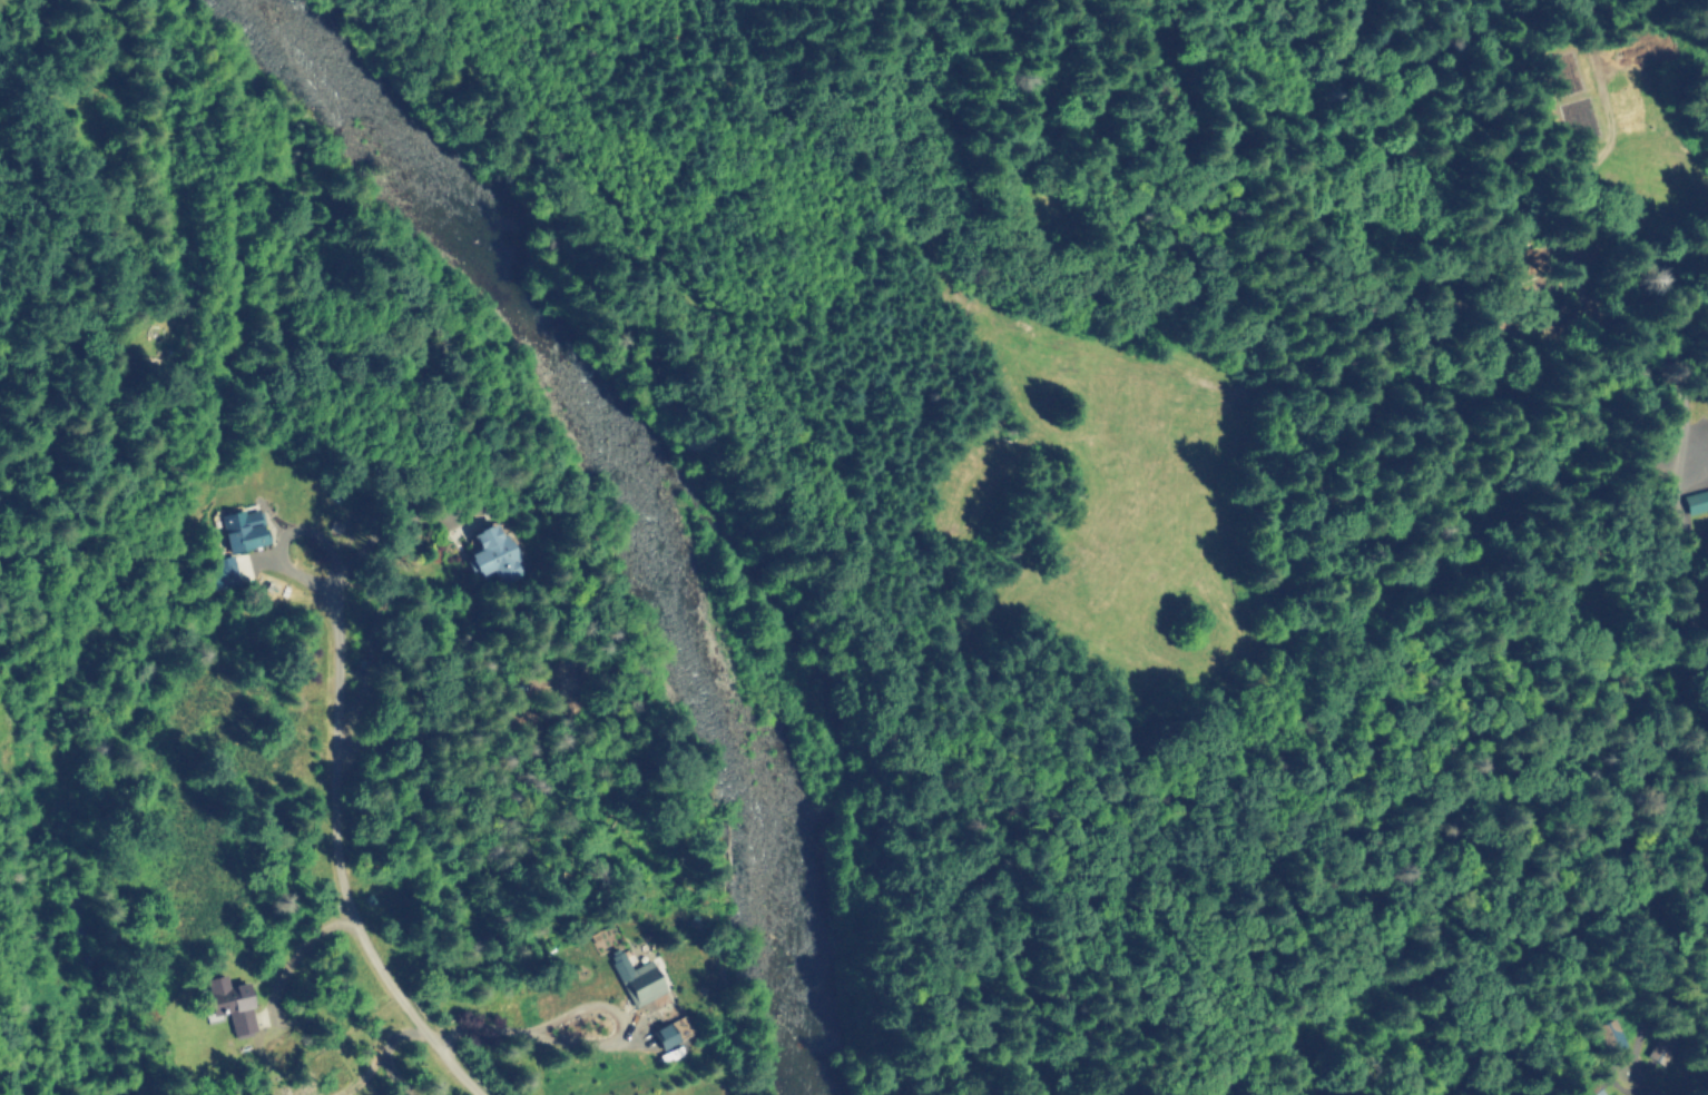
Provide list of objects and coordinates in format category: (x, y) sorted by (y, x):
river: (634, 487)
building: (1696, 502)
building: (243, 530)
building: (493, 556)
building: (232, 570)
road: (344, 866)
road: (301, 947)
building: (638, 979)
building: (233, 1003)
building: (667, 1035)
road: (593, 1045)
building: (1661, 1048)
building: (1651, 1092)

